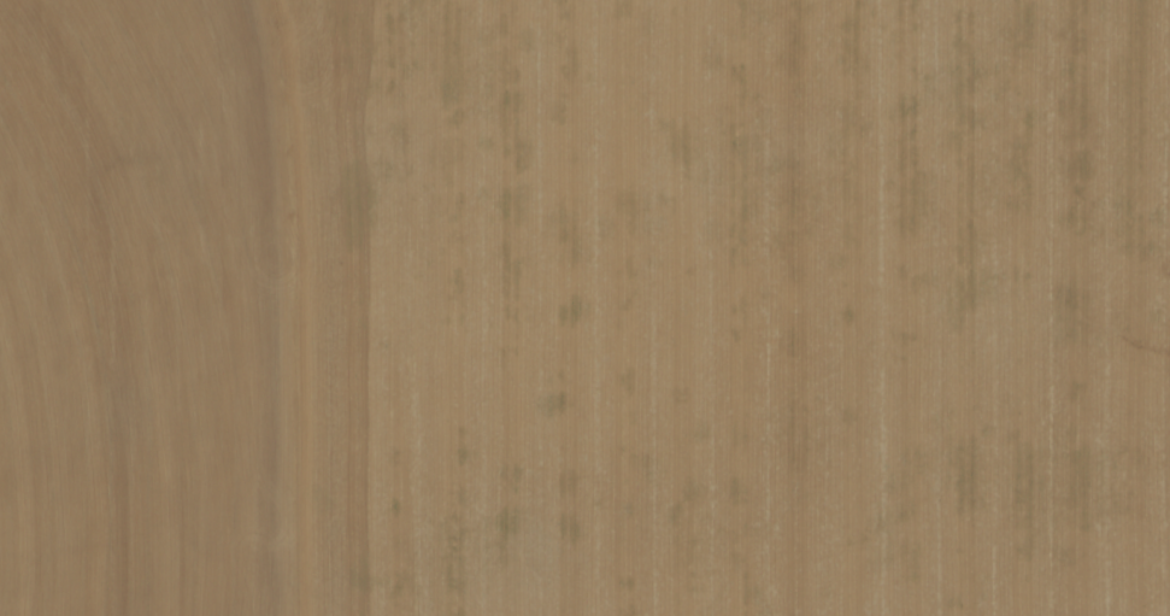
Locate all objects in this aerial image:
crop: (584, 307)

